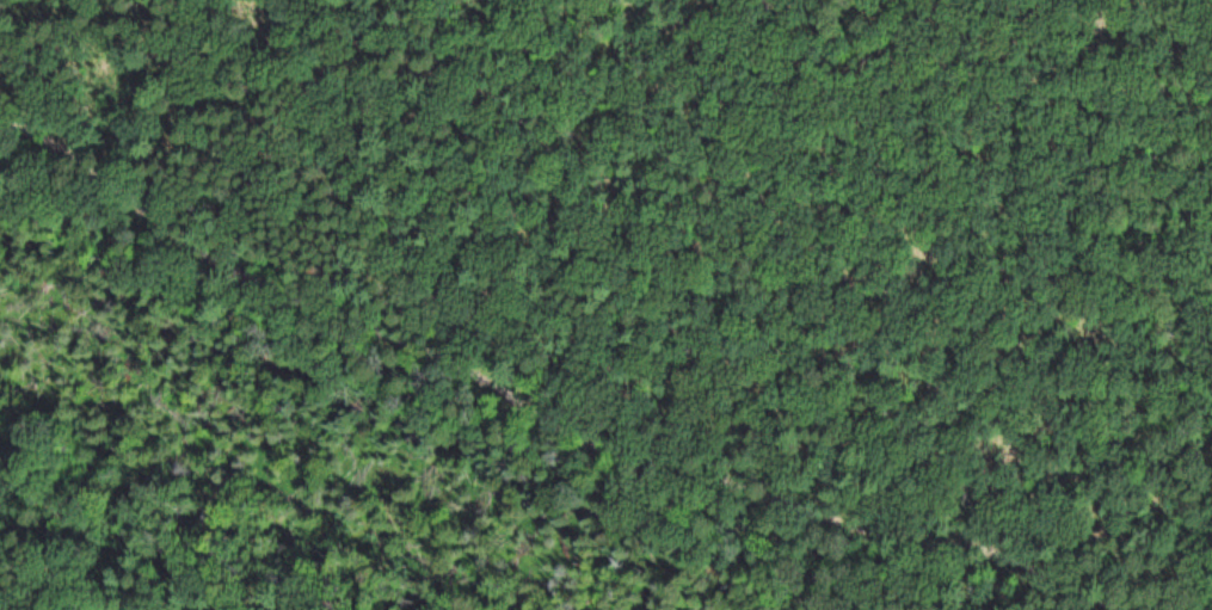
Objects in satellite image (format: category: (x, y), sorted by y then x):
road: (869, 378)
road: (515, 403)

